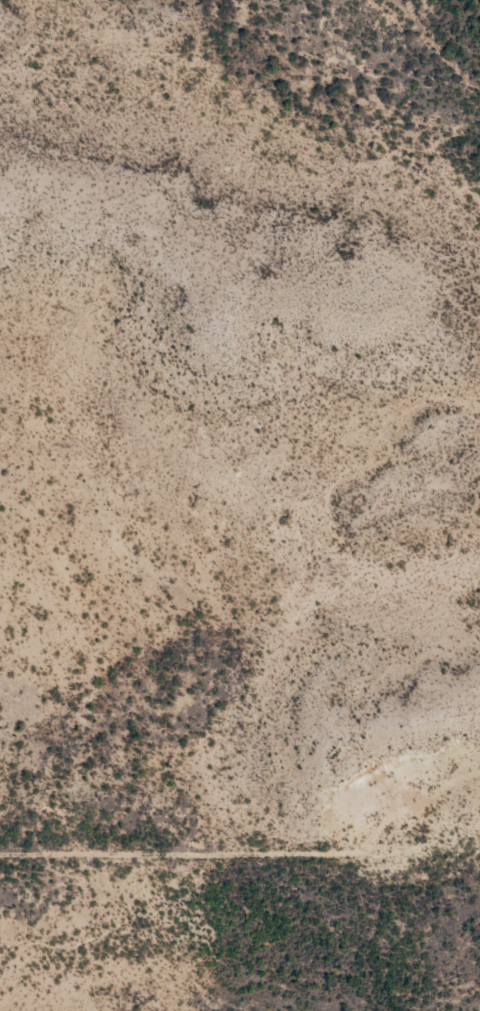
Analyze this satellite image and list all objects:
road: (240, 780)

